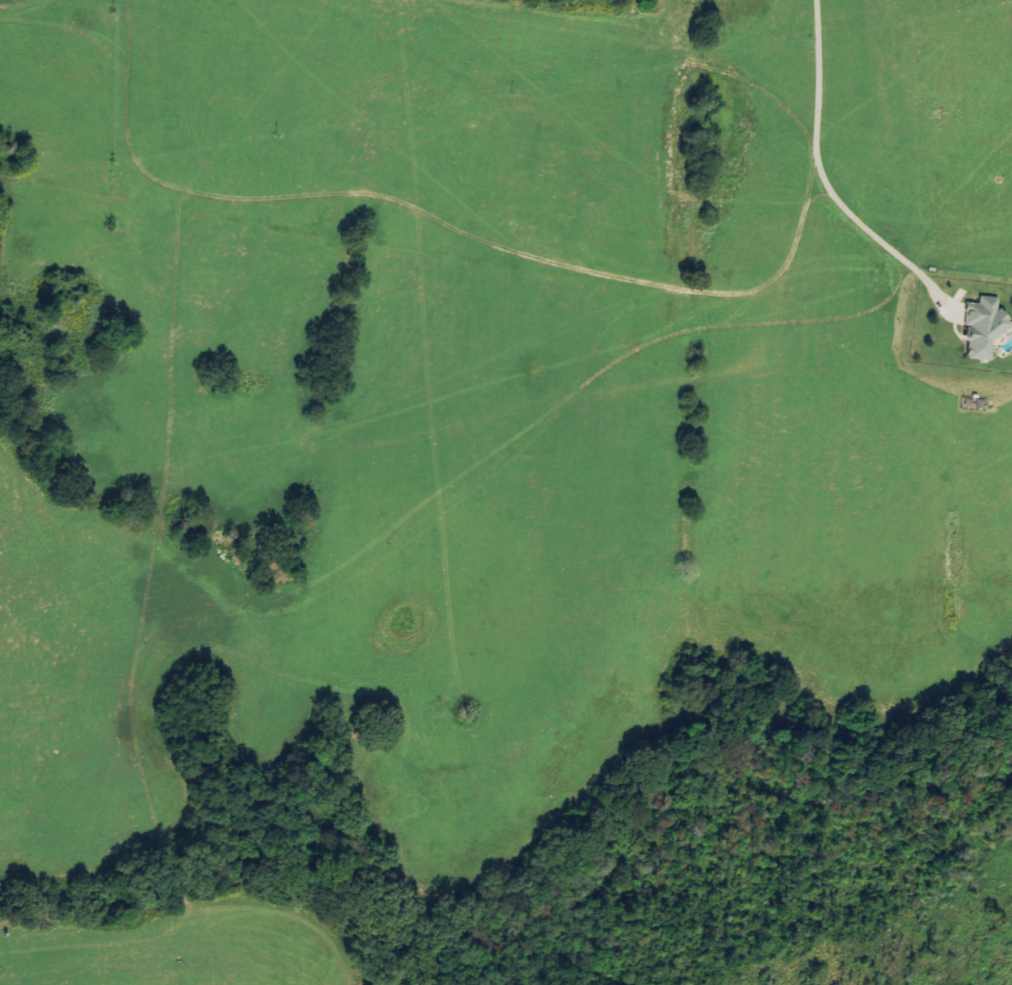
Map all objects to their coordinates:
road: (817, 174)
building: (983, 327)

